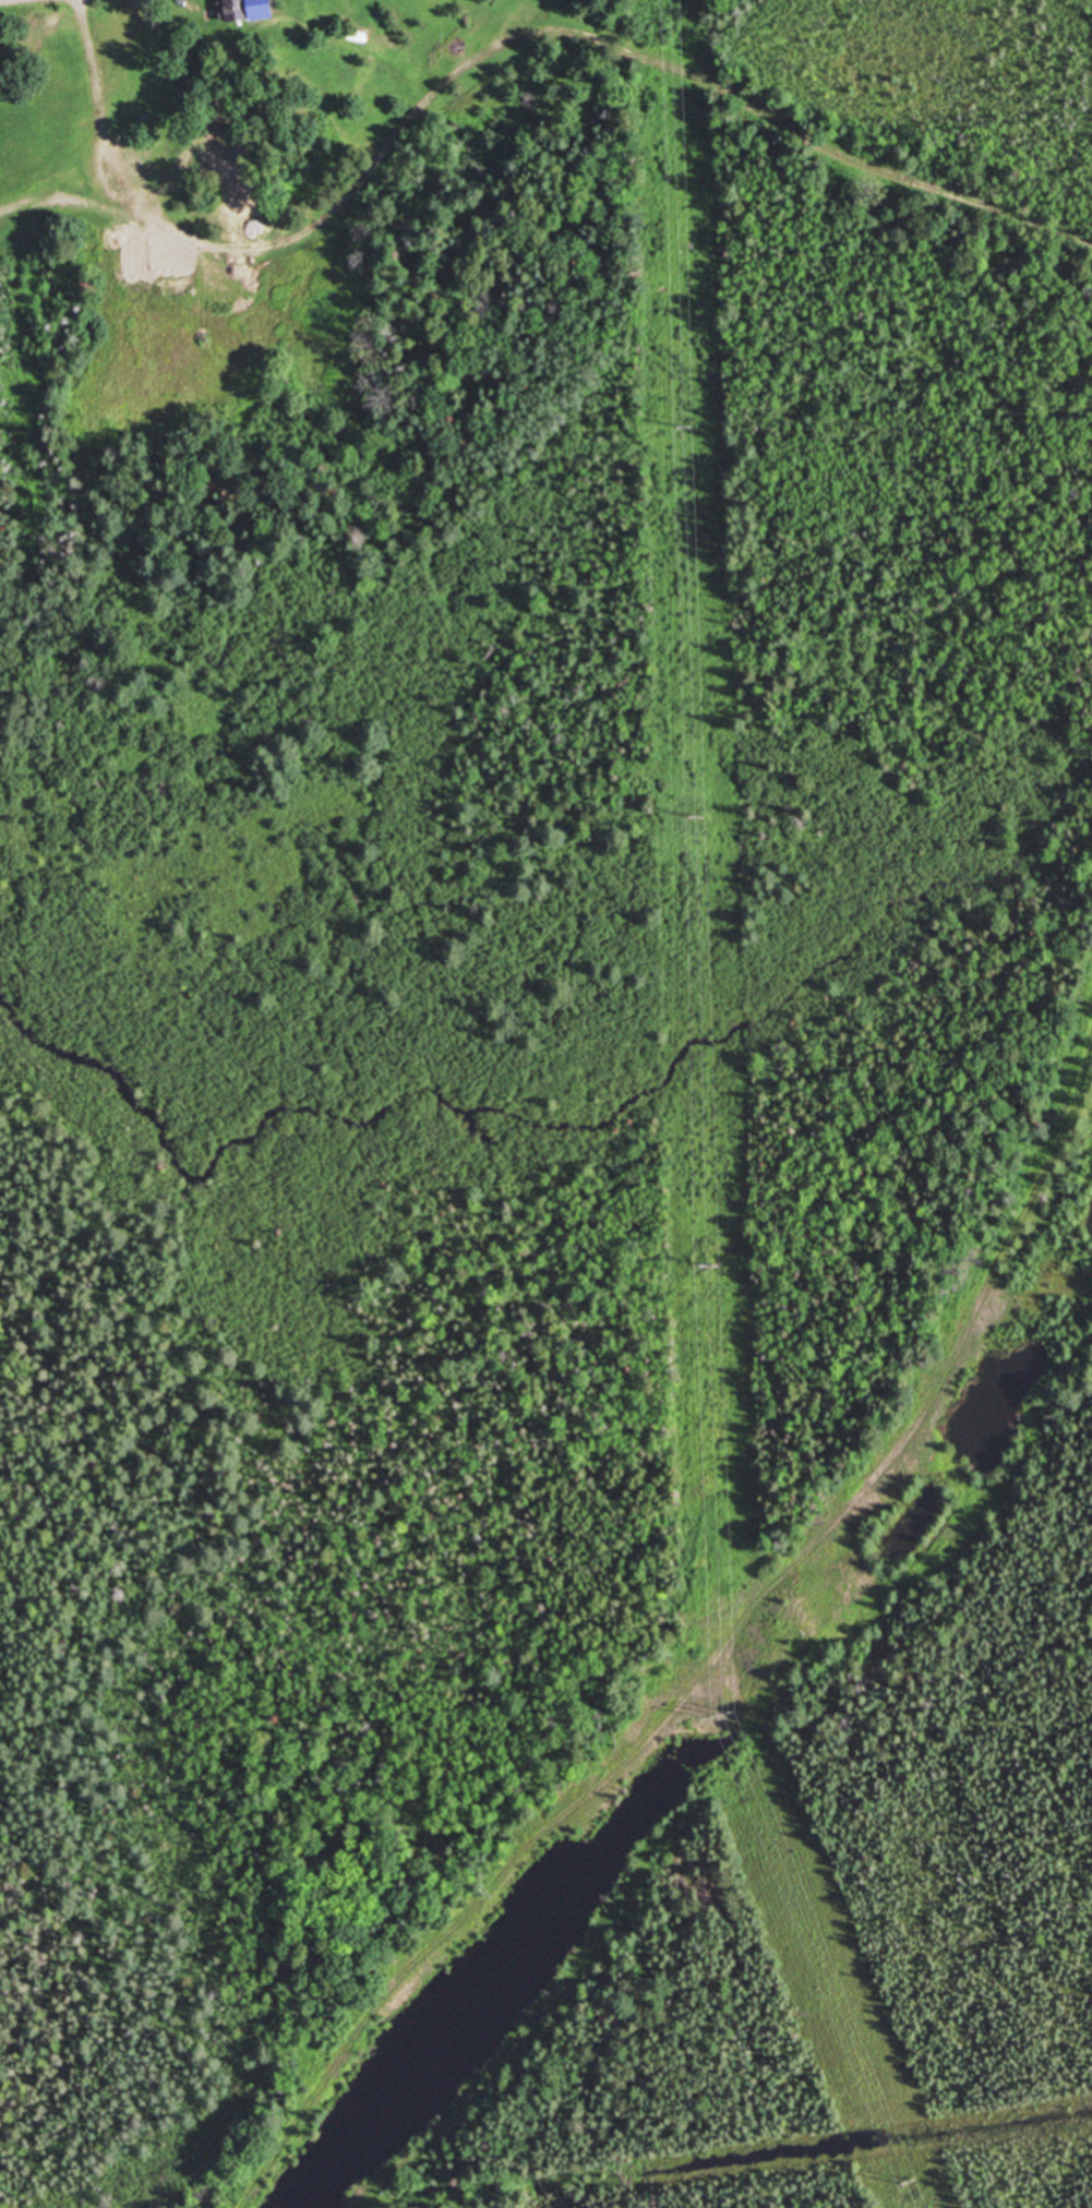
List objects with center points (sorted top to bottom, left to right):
road: (3, 0)
building: (248, 10)
building: (359, 38)
road: (521, 40)
building: (220, 134)
road: (715, 1657)

